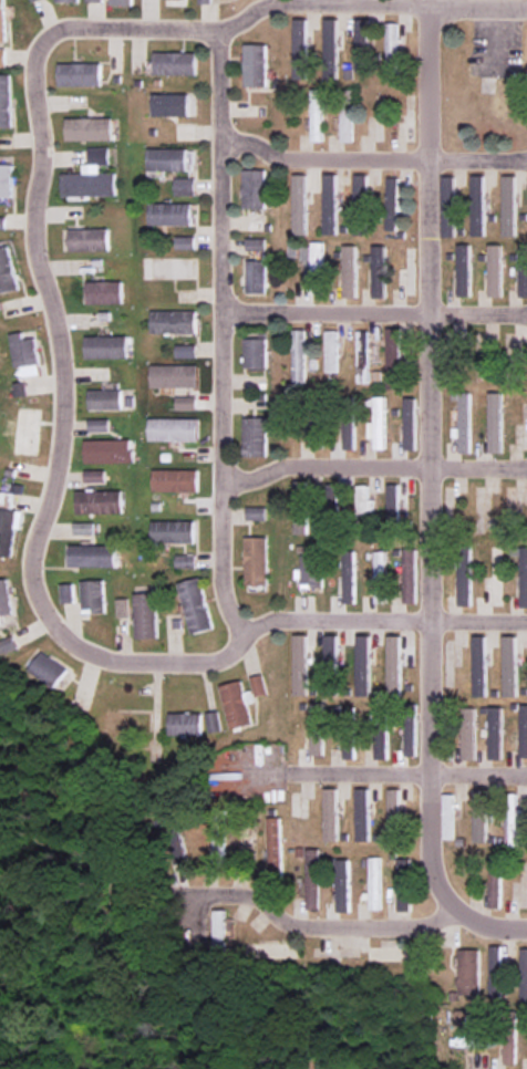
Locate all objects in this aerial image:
building: (35, 0)
building: (68, 0)
building: (205, 1)
building: (121, 2)
road: (283, 4)
building: (3, 20)
building: (330, 39)
building: (362, 45)
building: (392, 48)
building: (300, 49)
building: (3, 58)
building: (174, 63)
building: (255, 64)
building: (79, 74)
building: (7, 101)
building: (169, 104)
building: (317, 114)
building: (347, 125)
building: (87, 129)
building: (97, 155)
building: (166, 159)
road: (370, 162)
building: (7, 180)
building: (87, 183)
building: (184, 186)
building: (254, 188)
building: (300, 204)
building: (330, 204)
building: (392, 204)
building: (360, 205)
building: (478, 205)
building: (449, 206)
building: (509, 206)
building: (168, 214)
building: (3, 222)
building: (86, 239)
building: (184, 242)
building: (255, 243)
building: (313, 267)
building: (464, 270)
building: (495, 270)
building: (8, 271)
building: (350, 271)
building: (379, 271)
building: (523, 272)
building: (255, 277)
building: (102, 292)
road: (217, 311)
road: (372, 315)
building: (172, 322)
building: (103, 346)
building: (25, 350)
building: (184, 351)
building: (331, 351)
building: (255, 353)
building: (299, 355)
building: (362, 356)
building: (394, 357)
building: (173, 375)
building: (103, 399)
building: (184, 403)
building: (409, 423)
building: (495, 423)
building: (378, 424)
building: (463, 424)
building: (96, 425)
building: (172, 429)
building: (28, 432)
building: (349, 432)
road: (59, 435)
building: (254, 436)
building: (106, 450)
road: (426, 464)
road: (370, 468)
building: (93, 476)
building: (174, 480)
building: (300, 491)
building: (363, 500)
building: (97, 501)
building: (394, 505)
building: (255, 513)
building: (301, 520)
building: (9, 530)
building: (170, 531)
building: (91, 556)
building: (255, 560)
building: (184, 561)
building: (310, 571)
building: (521, 571)
building: (409, 575)
building: (349, 577)
building: (380, 577)
building: (464, 585)
building: (66, 593)
building: (92, 596)
building: (7, 598)
building: (122, 608)
building: (175, 615)
road: (228, 615)
road: (379, 622)
building: (9, 645)
building: (393, 663)
building: (300, 664)
building: (362, 665)
building: (478, 666)
building: (509, 666)
building: (49, 668)
building: (258, 685)
building: (235, 704)
building: (211, 722)
building: (184, 724)
building: (318, 728)
building: (524, 730)
building: (381, 733)
building: (495, 733)
building: (468, 734)
building: (410, 737)
building: (349, 746)
road: (406, 776)
building: (395, 812)
building: (331, 814)
building: (362, 814)
building: (479, 814)
building: (448, 816)
building: (221, 836)
building: (275, 844)
building: (313, 879)
building: (495, 881)
building: (375, 883)
building: (343, 885)
road: (316, 925)
road: (487, 928)
building: (221, 931)
building: (469, 972)
building: (497, 973)
building: (524, 975)
building: (472, 1032)
building: (509, 1051)

